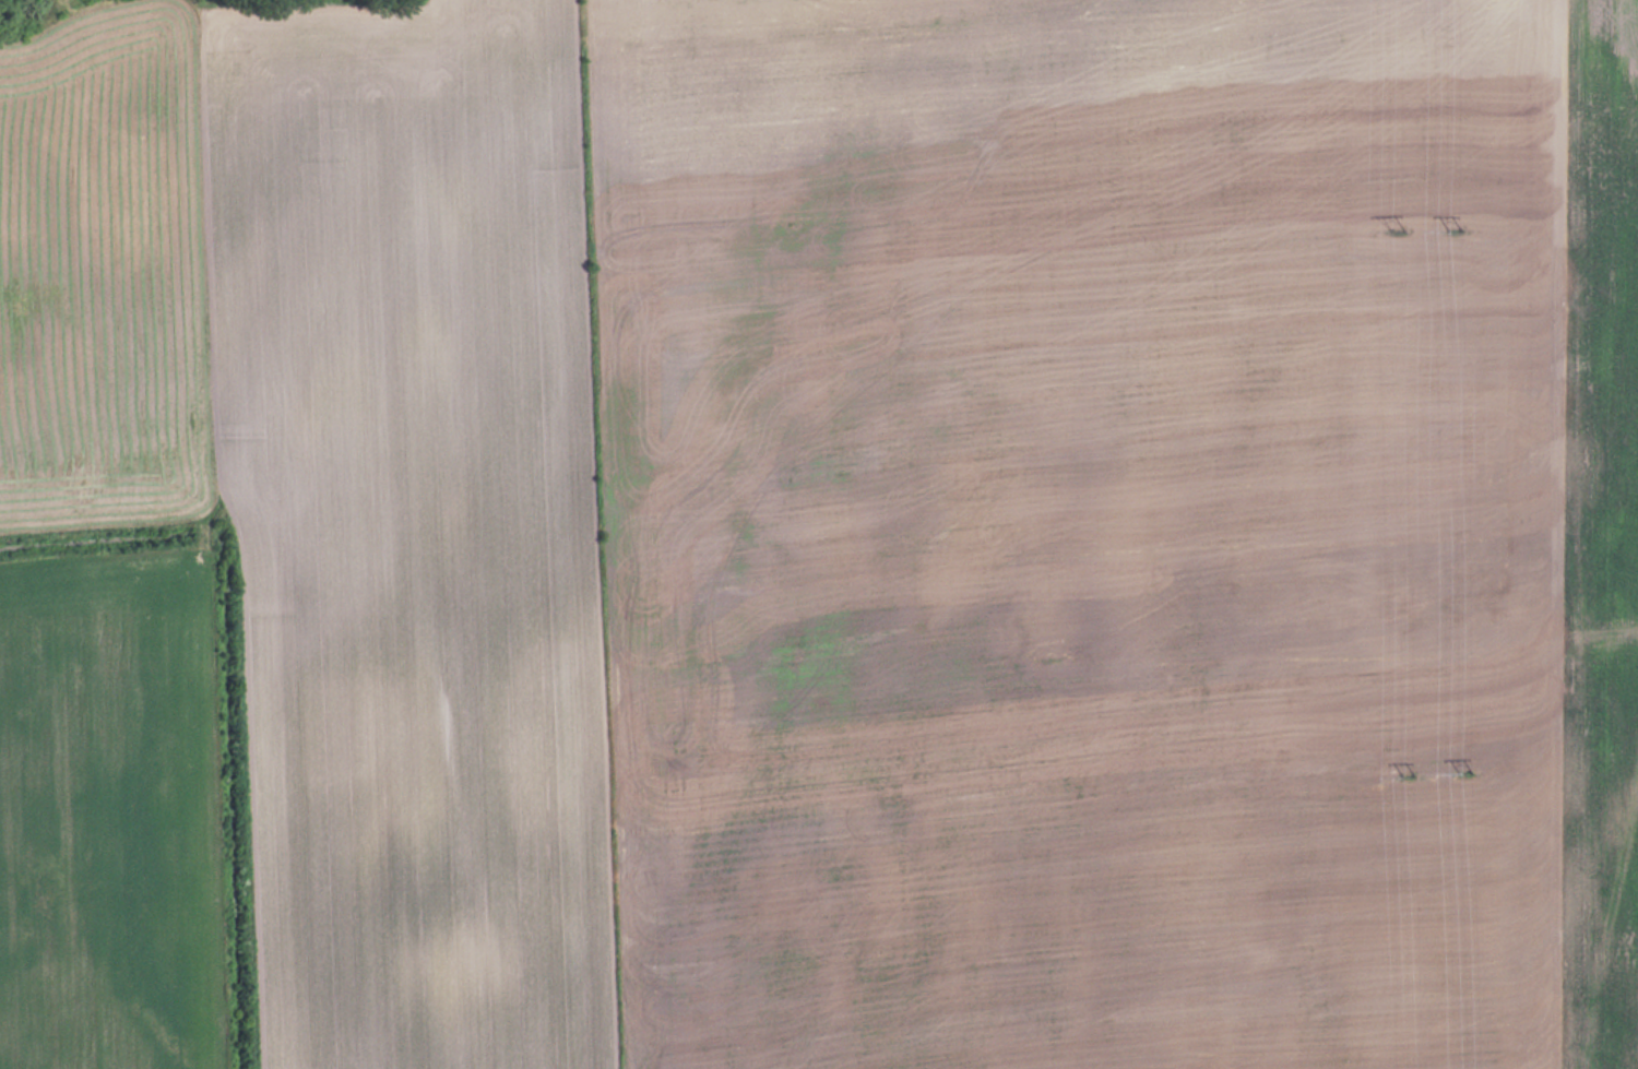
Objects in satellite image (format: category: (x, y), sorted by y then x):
power tower: (1394, 227)
power tower: (1456, 227)
power tower: (1465, 771)
power tower: (1406, 772)

